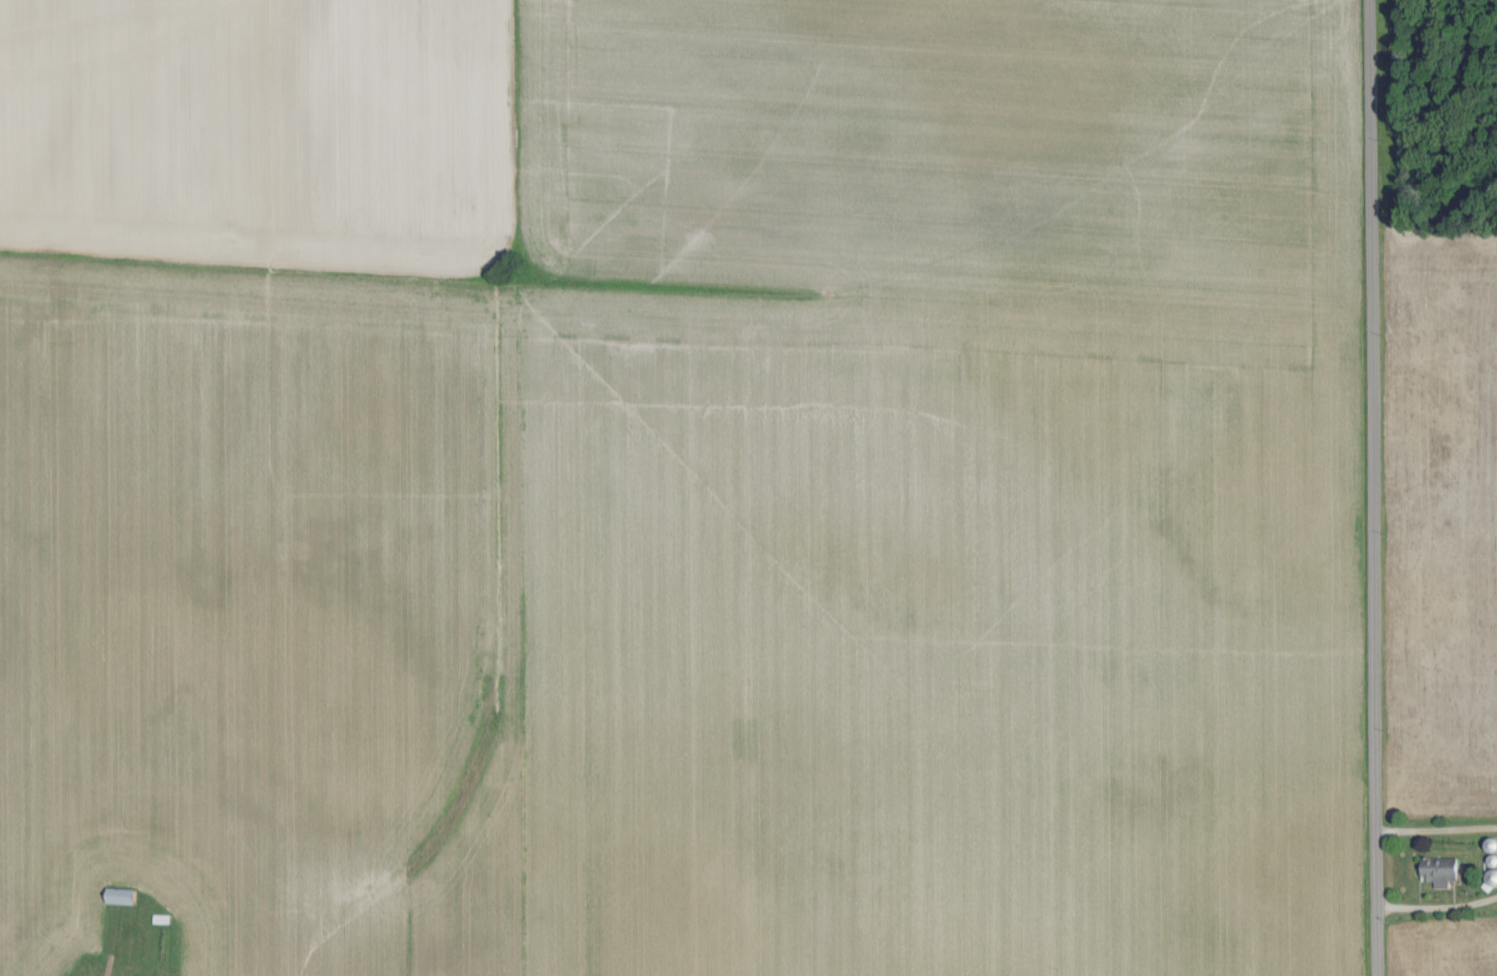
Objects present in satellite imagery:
road: (1370, 488)
road: (1436, 832)
building: (1445, 869)
building: (125, 894)
road: (1438, 911)
building: (140, 975)

